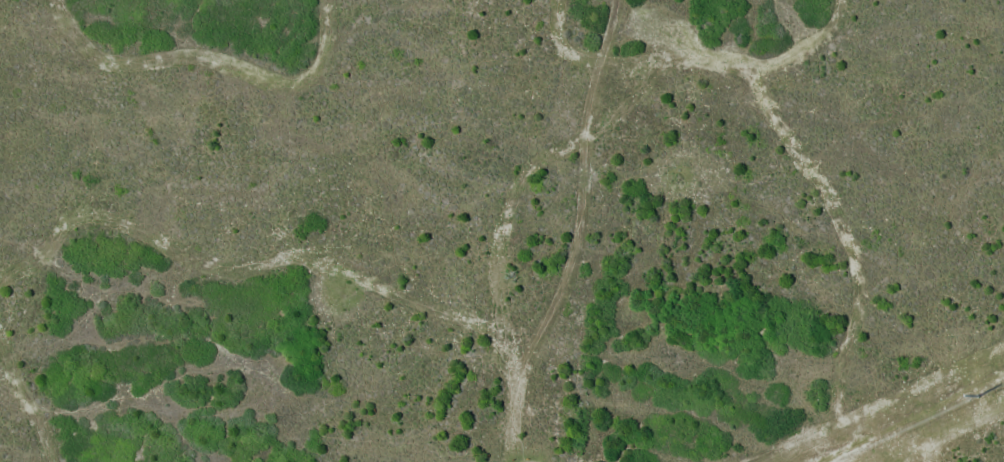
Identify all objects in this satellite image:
power tower: (974, 397)

